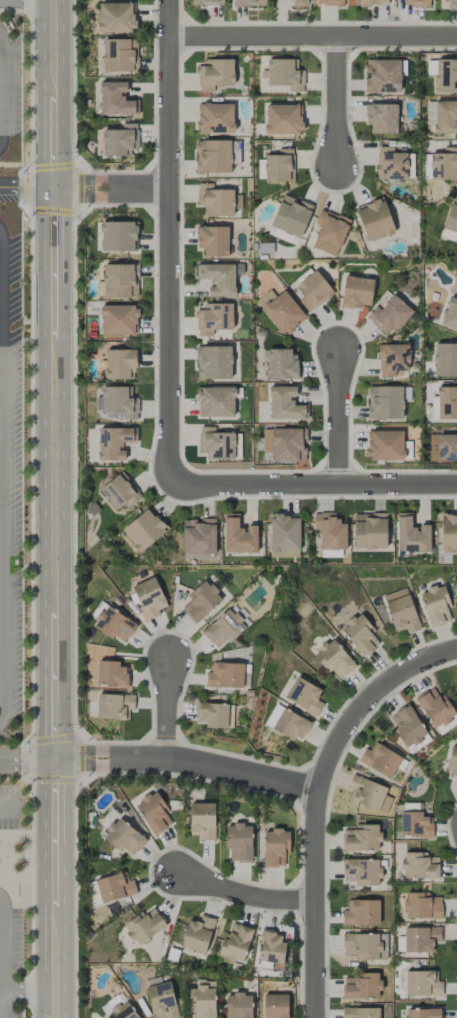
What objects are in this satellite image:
road: (33, 0)
building: (207, 2)
building: (330, 2)
building: (372, 2)
building: (450, 2)
building: (249, 3)
building: (299, 3)
building: (417, 3)
building: (116, 17)
road: (312, 35)
building: (119, 55)
building: (215, 74)
building: (284, 74)
building: (446, 75)
building: (382, 76)
building: (116, 99)
road: (337, 101)
building: (430, 113)
building: (445, 117)
building: (215, 118)
building: (381, 118)
building: (283, 119)
building: (119, 140)
road: (0, 149)
building: (213, 156)
building: (391, 164)
building: (444, 165)
building: (279, 166)
road: (110, 191)
building: (217, 200)
building: (291, 216)
building: (451, 217)
building: (374, 219)
building: (329, 232)
building: (447, 235)
building: (118, 236)
building: (213, 240)
road: (168, 243)
building: (218, 278)
building: (119, 280)
building: (313, 291)
building: (356, 292)
road: (26, 298)
building: (281, 311)
building: (389, 315)
building: (450, 315)
building: (214, 318)
building: (119, 320)
building: (392, 359)
building: (445, 360)
building: (213, 362)
building: (281, 363)
building: (120, 364)
building: (215, 401)
building: (119, 402)
building: (384, 402)
building: (447, 403)
building: (285, 404)
road: (339, 417)
building: (113, 442)
building: (216, 443)
building: (284, 443)
building: (384, 445)
building: (443, 447)
road: (312, 485)
building: (119, 492)
road: (53, 495)
building: (144, 529)
road: (2, 531)
building: (330, 531)
building: (369, 531)
building: (448, 533)
building: (411, 535)
building: (198, 536)
building: (239, 536)
building: (284, 536)
building: (328, 553)
building: (149, 597)
building: (200, 601)
building: (435, 605)
building: (401, 611)
building: (114, 624)
building: (223, 628)
building: (360, 635)
building: (334, 659)
building: (111, 673)
building: (225, 675)
building: (304, 696)
building: (114, 706)
building: (435, 707)
road: (166, 709)
building: (214, 715)
building: (272, 716)
building: (291, 725)
building: (408, 728)
building: (380, 760)
road: (27, 761)
traffic signals: (55, 761)
road: (188, 763)
building: (452, 763)
building: (368, 794)
road: (319, 801)
road: (8, 812)
building: (153, 812)
building: (202, 821)
building: (415, 824)
building: (123, 837)
building: (361, 838)
building: (238, 842)
building: (275, 847)
building: (419, 866)
building: (361, 871)
building: (114, 887)
road: (247, 892)
building: (422, 906)
building: (361, 912)
building: (144, 926)
building: (197, 934)
building: (421, 939)
road: (3, 942)
building: (235, 943)
building: (364, 945)
building: (271, 947)
building: (422, 983)
building: (361, 986)
road: (13, 989)
road: (39, 990)
building: (161, 1000)
building: (202, 1002)
road: (3, 1003)
road: (55, 1004)
building: (238, 1005)
building: (275, 1006)
building: (122, 1011)
building: (360, 1012)
building: (422, 1013)

